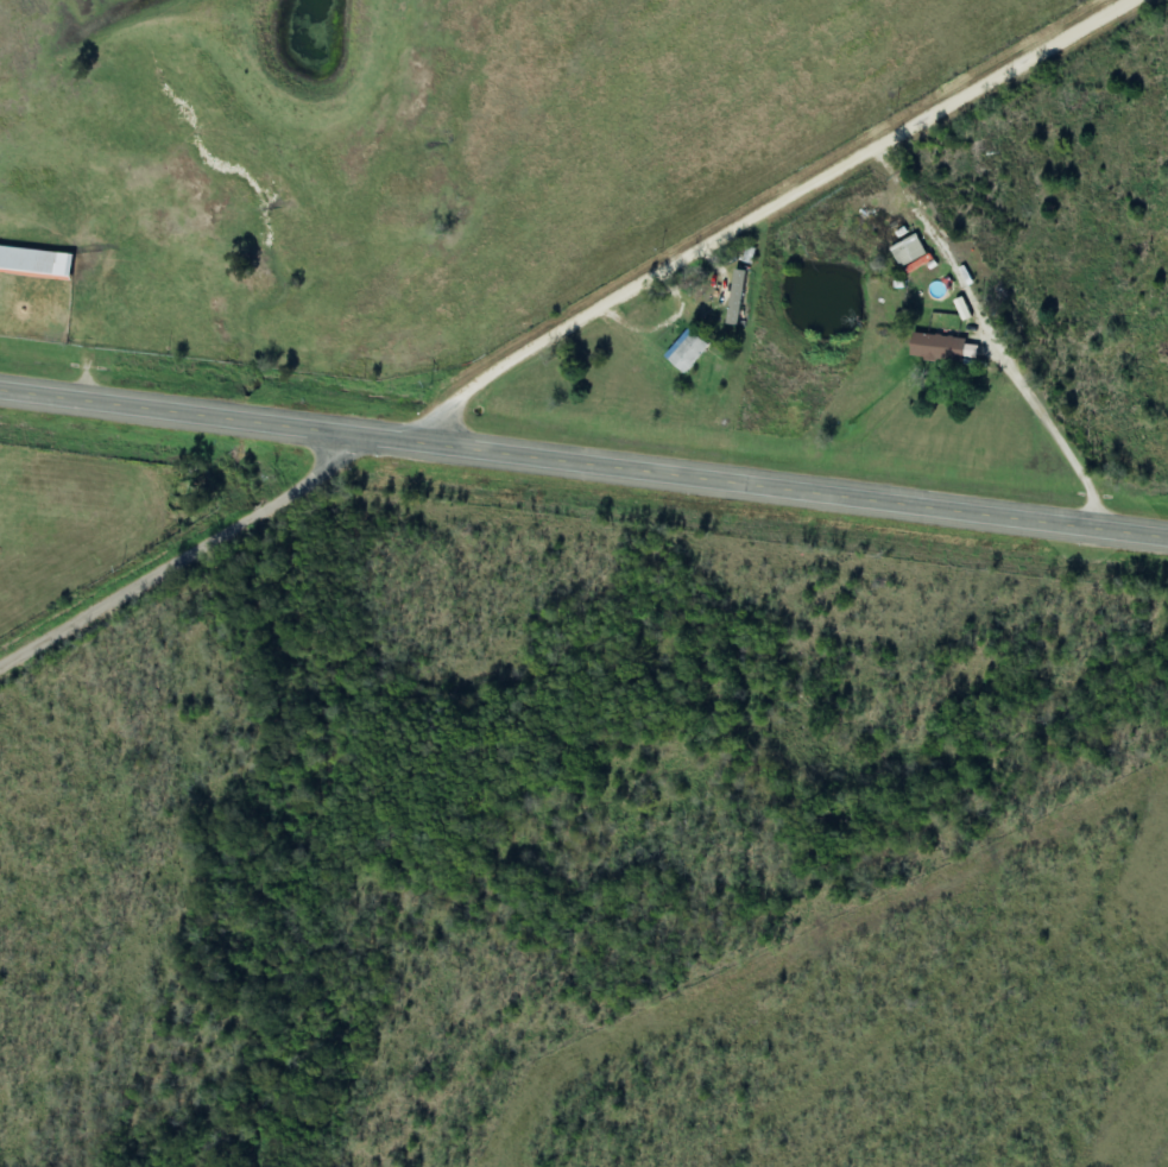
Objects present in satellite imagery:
road: (769, 214)
building: (910, 251)
building: (36, 260)
building: (738, 297)
building: (939, 348)
building: (689, 352)
road: (583, 463)
road: (198, 556)

